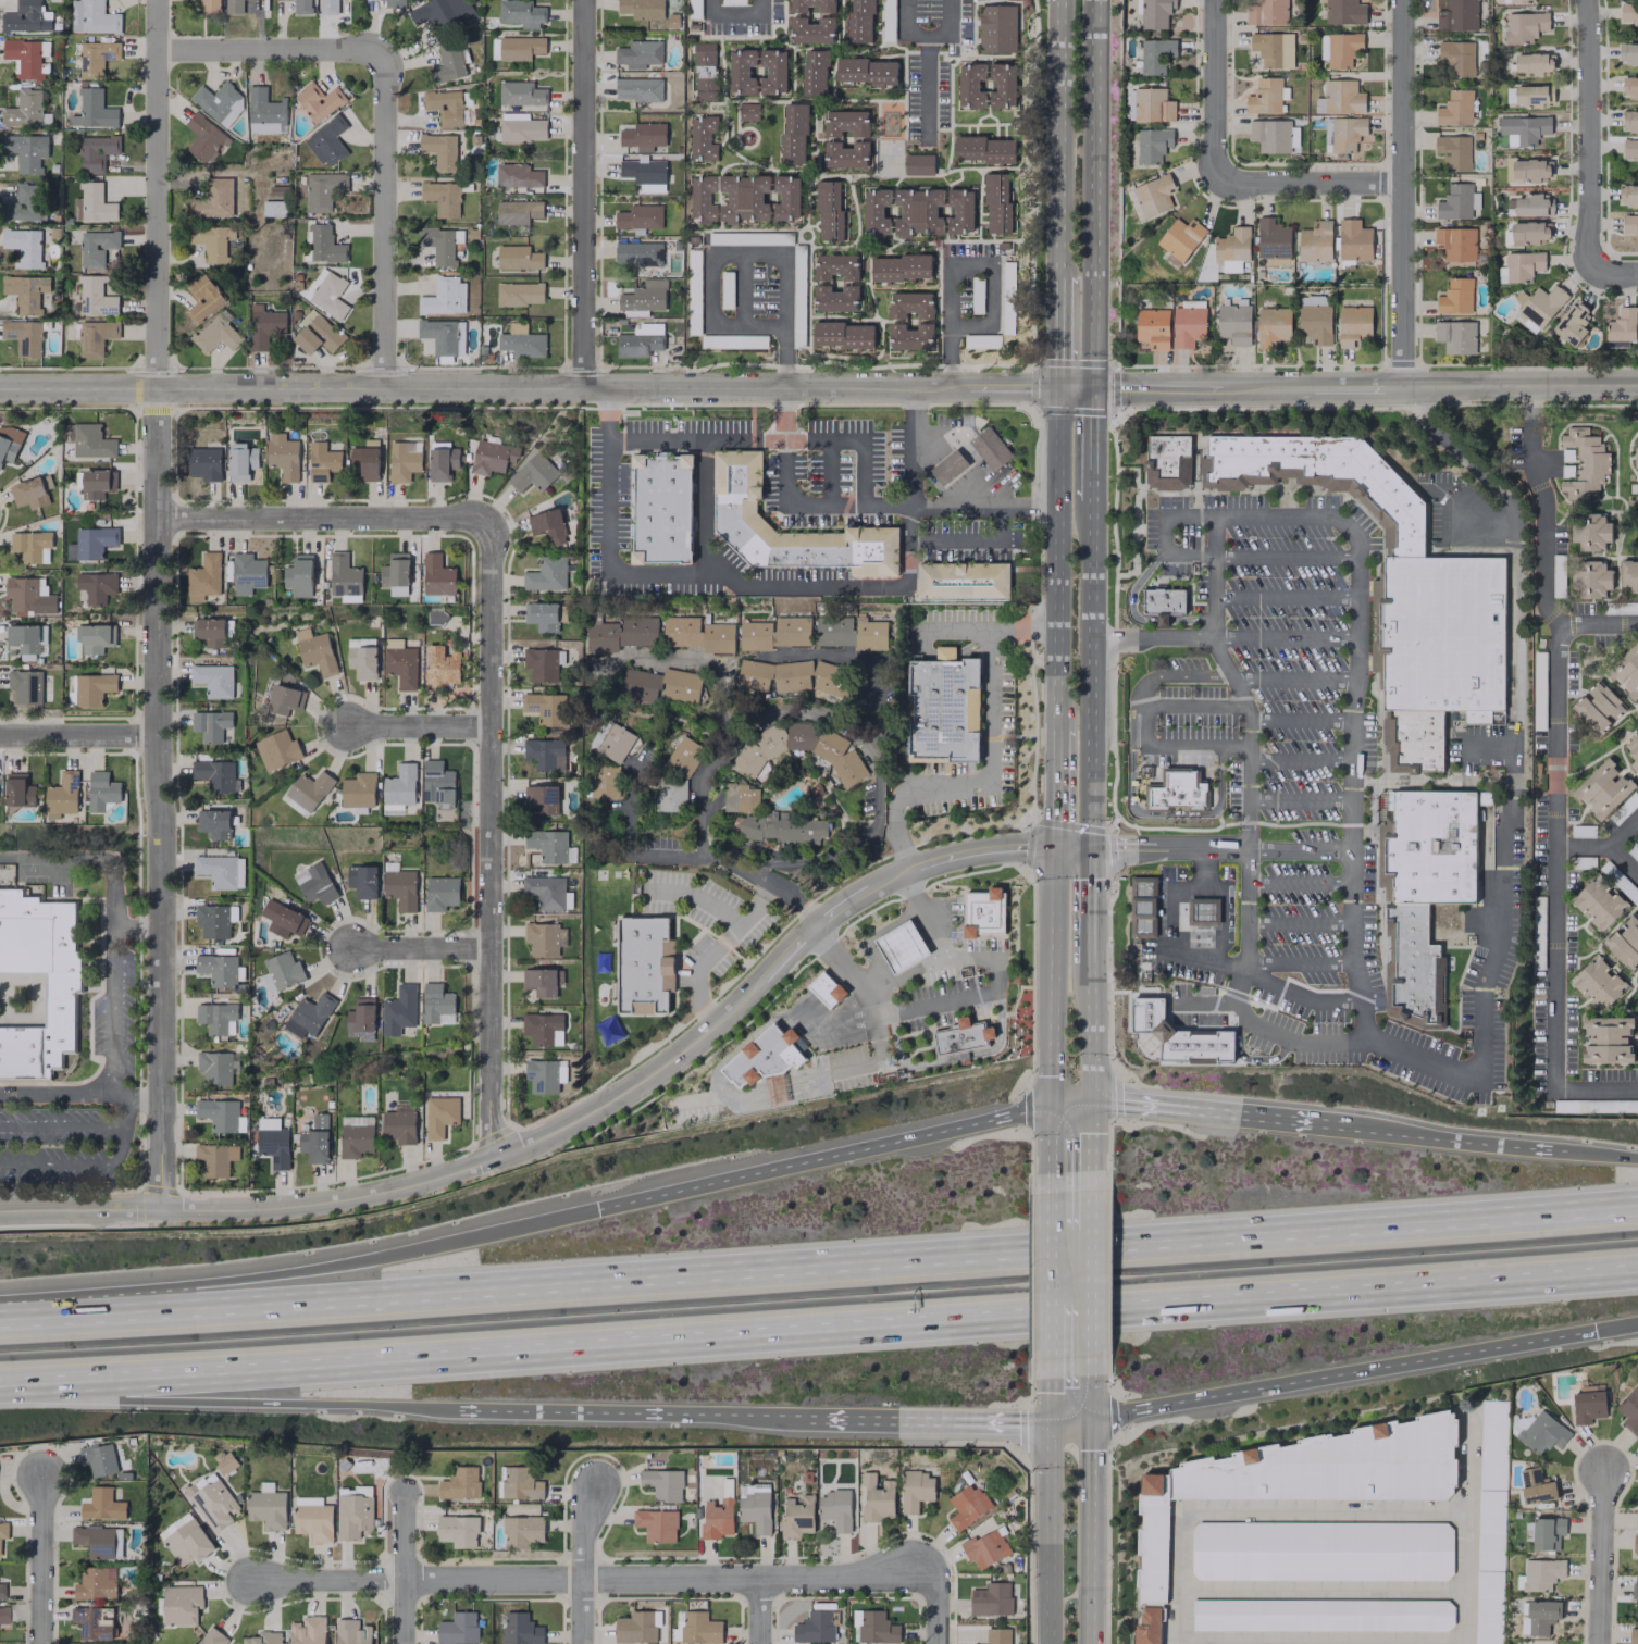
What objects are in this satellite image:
building: (1517, 1)
building: (394, 3)
building: (210, 5)
building: (233, 5)
building: (301, 7)
building: (328, 7)
building: (641, 9)
building: (1266, 12)
building: (1343, 12)
road: (735, 13)
building: (1155, 13)
building: (1629, 13)
building: (442, 14)
building: (520, 14)
building: (1455, 14)
building: (26, 17)
building: (92, 17)
building: (826, 20)
building: (859, 21)
building: (1525, 26)
building: (996, 28)
road: (927, 33)
building: (1323, 47)
building: (1273, 48)
building: (1342, 48)
road: (271, 51)
building: (1628, 52)
building: (638, 53)
building: (1155, 55)
building: (24, 57)
building: (96, 57)
building: (1456, 57)
building: (447, 63)
building: (1531, 63)
building: (705, 71)
building: (866, 71)
building: (757, 72)
building: (815, 73)
building: (986, 85)
building: (1629, 86)
building: (638, 89)
road: (926, 89)
road: (1213, 91)
building: (519, 94)
building: (1530, 95)
building: (1266, 96)
building: (1342, 97)
building: (318, 100)
building: (219, 101)
building: (1152, 104)
building: (444, 107)
building: (1455, 108)
building: (23, 109)
building: (94, 110)
building: (1630, 120)
building: (521, 127)
building: (1523, 129)
building: (793, 132)
building: (1345, 133)
building: (1274, 135)
road: (1587, 135)
building: (643, 136)
road: (1058, 137)
building: (203, 138)
building: (702, 138)
building: (859, 140)
building: (327, 141)
building: (1150, 145)
building: (983, 149)
building: (1630, 149)
building: (25, 150)
building: (439, 150)
building: (1453, 150)
building: (96, 152)
building: (918, 164)
building: (643, 170)
building: (1527, 170)
building: (517, 175)
road: (1310, 182)
building: (322, 190)
road: (1401, 194)
road: (1092, 195)
building: (1153, 195)
building: (1627, 195)
road: (579, 196)
building: (442, 198)
building: (213, 199)
building: (744, 199)
building: (1456, 202)
building: (23, 203)
building: (94, 203)
building: (998, 203)
building: (1531, 205)
building: (274, 208)
building: (517, 211)
building: (830, 211)
building: (917, 211)
building: (638, 216)
road: (382, 220)
building: (1629, 225)
building: (1527, 233)
building: (1180, 238)
building: (1353, 240)
building: (1273, 241)
building: (1315, 241)
building: (212, 244)
building: (323, 244)
building: (1455, 244)
building: (26, 245)
building: (438, 246)
building: (96, 247)
building: (1232, 249)
building: (637, 253)
road: (743, 256)
building: (518, 258)
road: (955, 265)
building: (1523, 265)
building: (901, 267)
road: (1614, 273)
building: (849, 282)
road: (743, 290)
building: (26, 292)
building: (798, 292)
building: (1007, 292)
building: (330, 294)
building: (519, 294)
building: (95, 297)
building: (439, 297)
building: (1455, 297)
building: (202, 299)
building: (643, 299)
building: (1541, 304)
building: (923, 319)
building: (1233, 323)
building: (1315, 323)
building: (1572, 323)
building: (1273, 325)
building: (1353, 325)
building: (264, 326)
building: (1152, 327)
building: (1187, 327)
building: (1621, 327)
road: (1058, 332)
building: (216, 333)
building: (317, 334)
building: (843, 335)
building: (23, 336)
building: (439, 336)
building: (1455, 336)
building: (95, 337)
building: (640, 340)
building: (522, 344)
road: (1518, 385)
road: (1200, 388)
road: (1354, 388)
traffic signals: (1057, 389)
road: (1075, 389)
traffic signals: (1093, 389)
road: (528, 390)
building: (92, 440)
building: (9, 441)
road: (744, 441)
road: (1091, 444)
building: (990, 449)
gas station: (990, 449)
road: (828, 451)
building: (282, 456)
building: (491, 457)
building: (1636, 457)
building: (402, 460)
building: (202, 461)
building: (240, 461)
building: (321, 461)
building: (1166, 461)
building: (363, 462)
building: (1584, 462)
building: (0, 463)
building: (442, 463)
building: (948, 468)
gas station: (948, 468)
building: (532, 473)
building: (1320, 477)
building: (95, 482)
building: (32, 490)
road: (791, 505)
road: (925, 506)
building: (661, 508)
building: (739, 519)
road: (322, 520)
building: (547, 525)
building: (1589, 532)
road: (970, 539)
building: (94, 541)
building: (32, 546)
road: (1169, 557)
road: (1285, 557)
road: (1056, 559)
building: (248, 573)
building: (396, 573)
road: (675, 573)
building: (546, 574)
building: (299, 575)
building: (344, 575)
building: (437, 575)
building: (1628, 575)
building: (204, 577)
building: (1591, 578)
building: (963, 581)
building: (96, 586)
road: (840, 586)
building: (29, 596)
road: (1283, 597)
building: (1164, 601)
road: (159, 603)
building: (1614, 608)
building: (542, 615)
road: (1598, 625)
road: (960, 630)
building: (210, 632)
building: (772, 633)
building: (849, 633)
building: (619, 634)
building: (697, 634)
building: (1440, 634)
building: (95, 637)
road: (1151, 638)
road: (1282, 638)
building: (27, 639)
building: (314, 651)
road: (948, 655)
building: (361, 658)
road: (856, 661)
building: (542, 663)
road: (699, 663)
building: (439, 665)
road: (1354, 671)
building: (1626, 671)
road: (1089, 673)
building: (794, 677)
building: (213, 680)
road: (1293, 680)
building: (660, 685)
building: (25, 686)
building: (92, 688)
building: (284, 699)
building: (943, 707)
building: (1597, 707)
building: (545, 708)
road: (1299, 720)
road: (754, 722)
parking lot: (1195, 722)
building: (211, 724)
road: (1145, 726)
road: (422, 727)
road: (1555, 734)
road: (79, 738)
road: (1249, 739)
building: (1412, 739)
building: (615, 743)
building: (276, 749)
building: (1633, 750)
building: (544, 753)
building: (684, 756)
building: (837, 756)
road: (990, 757)
road: (1298, 759)
building: (215, 775)
building: (605, 781)
road: (1056, 788)
building: (310, 789)
building: (359, 789)
building: (1601, 789)
building: (18, 790)
building: (102, 790)
parking lot: (1324, 790)
building: (1178, 794)
building: (63, 795)
building: (670, 795)
building: (740, 797)
building: (1482, 798)
building: (541, 799)
road: (1298, 800)
building: (213, 823)
building: (780, 827)
road: (489, 839)
building: (547, 845)
building: (1427, 846)
traffic signals: (1055, 847)
road: (1072, 847)
traffic signals: (1090, 847)
road: (1219, 848)
road: (1583, 848)
road: (1610, 848)
road: (691, 854)
road: (837, 856)
road: (1506, 857)
road: (86, 858)
building: (221, 871)
building: (361, 881)
road: (1296, 883)
building: (315, 884)
building: (399, 888)
building: (439, 893)
building: (547, 893)
road: (694, 896)
building: (1598, 902)
road: (754, 904)
road: (1089, 905)
building: (1143, 908)
gas station: (1143, 908)
building: (983, 911)
building: (1202, 911)
road: (1221, 911)
building: (283, 919)
building: (214, 920)
road: (1298, 924)
road: (1170, 925)
road: (137, 929)
building: (544, 938)
building: (1624, 942)
building: (902, 947)
gas station: (902, 947)
road: (421, 950)
building: (644, 963)
road: (996, 963)
road: (1298, 964)
road: (697, 968)
building: (1412, 968)
building: (218, 970)
building: (283, 970)
building: (1637, 971)
road: (903, 976)
building: (542, 981)
building: (36, 983)
building: (1598, 983)
building: (827, 989)
building: (435, 1002)
road: (1208, 1002)
road: (1052, 1009)
building: (398, 1010)
building: (308, 1014)
road: (871, 1016)
building: (216, 1018)
building: (361, 1018)
building: (542, 1027)
road: (1090, 1034)
road: (1278, 1034)
building: (1179, 1035)
building: (963, 1037)
building: (1606, 1039)
building: (765, 1056)
road: (112, 1070)
building: (544, 1075)
road: (634, 1084)
road: (1596, 1088)
road: (138, 1095)
parking lot: (82, 1105)
traffic signals: (1090, 1105)
road: (1070, 1106)
traffic signals: (1051, 1108)
road: (1213, 1112)
building: (218, 1113)
building: (439, 1114)
building: (399, 1122)
road: (59, 1126)
road: (117, 1129)
building: (355, 1136)
road: (1090, 1136)
building: (314, 1139)
road: (1443, 1141)
building: (272, 1143)
road: (1594, 1155)
building: (214, 1159)
road: (823, 1160)
road: (59, 1162)
road: (1090, 1199)
road: (78, 1209)
traffic signals: (597, 1212)
road: (1050, 1237)
road: (819, 1261)
road: (300, 1273)
road: (1089, 1301)
road: (819, 1328)
traffic signals: (1594, 1331)
road: (1048, 1340)
road: (1363, 1369)
road: (1048, 1398)
road: (218, 1404)
building: (1587, 1406)
building: (1629, 1411)
road: (615, 1412)
traffic signals: (1089, 1416)
road: (1068, 1417)
traffic signals: (1048, 1419)
road: (921, 1420)
building: (1542, 1432)
building: (99, 1459)
building: (223, 1460)
road: (1469, 1466)
building: (1302, 1478)
building: (460, 1483)
building: (520, 1483)
building: (662, 1484)
building: (1535, 1486)
building: (915, 1490)
building: (877, 1499)
building: (211, 1502)
building: (101, 1505)
building: (966, 1506)
building: (265, 1509)
building: (834, 1509)
road: (1088, 1509)
building: (352, 1512)
road: (1319, 1512)
building: (797, 1516)
building: (717, 1518)
building: (1636, 1518)
building: (312, 1519)
building: (656, 1524)
building: (1490, 1524)
building: (3, 1531)
building: (458, 1531)
building: (523, 1531)
road: (1048, 1531)
building: (1543, 1532)
building: (185, 1540)
building: (99, 1541)
building: (1635, 1544)
building: (984, 1548)
building: (1320, 1550)
road: (1604, 1557)
road: (44, 1559)
road: (584, 1561)
road: (408, 1568)
building: (1541, 1573)
road: (594, 1578)
building: (95, 1583)
road: (1318, 1590)
building: (1, 1591)
building: (1635, 1591)
building: (991, 1599)
road: (940, 1603)
building: (181, 1605)
road: (760, 1609)
building: (1321, 1615)
building: (1539, 1617)
building: (92, 1622)
building: (1147, 1626)
building: (636, 1627)
building: (816, 1627)
building: (458, 1628)
building: (699, 1628)
building: (876, 1628)
building: (520, 1629)
building: (308, 1630)
building: (351, 1632)
building: (212, 1636)
building: (1633, 1636)
building: (263, 1637)
road: (1281, 1642)

